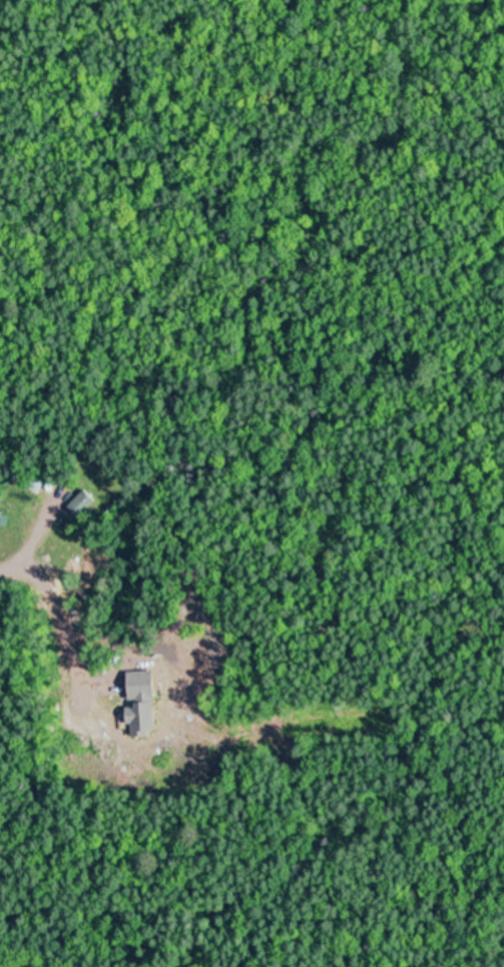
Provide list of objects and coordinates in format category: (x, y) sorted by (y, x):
building: (82, 502)

